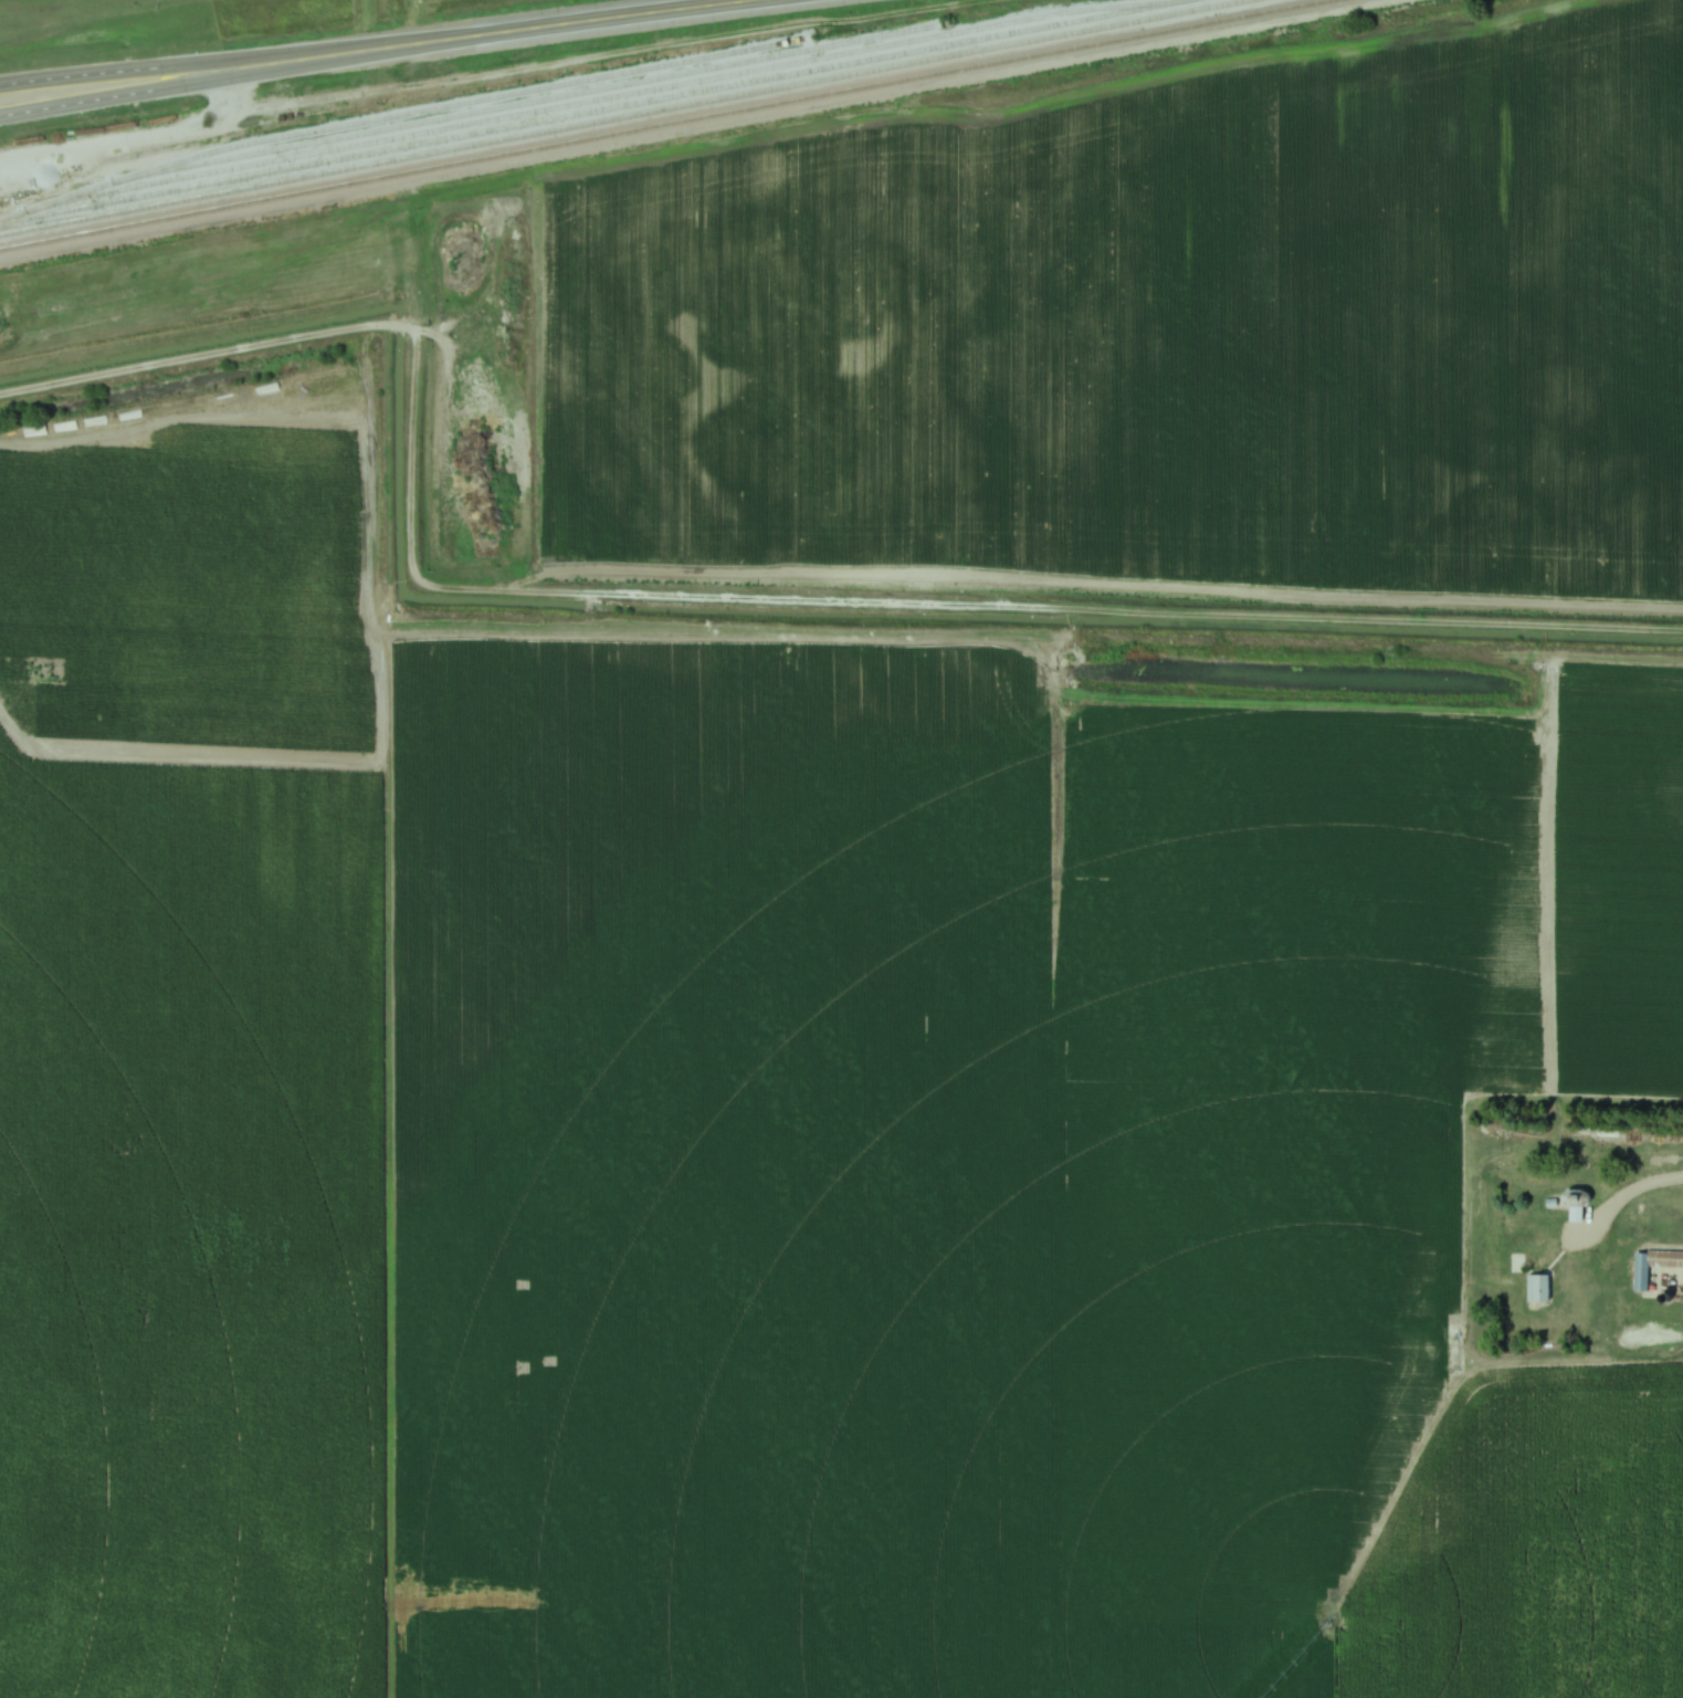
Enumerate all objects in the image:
road: (502, 32)
road: (119, 72)
railway: (579, 98)
road: (122, 101)
railway: (457, 101)
railway: (482, 107)
railway: (587, 109)
railway: (621, 116)
railway: (654, 123)
crop: (1155, 326)
building: (33, 432)
crop: (196, 587)
crop: (1614, 883)
building: (1575, 1197)
building: (1652, 1270)
building: (1537, 1289)

